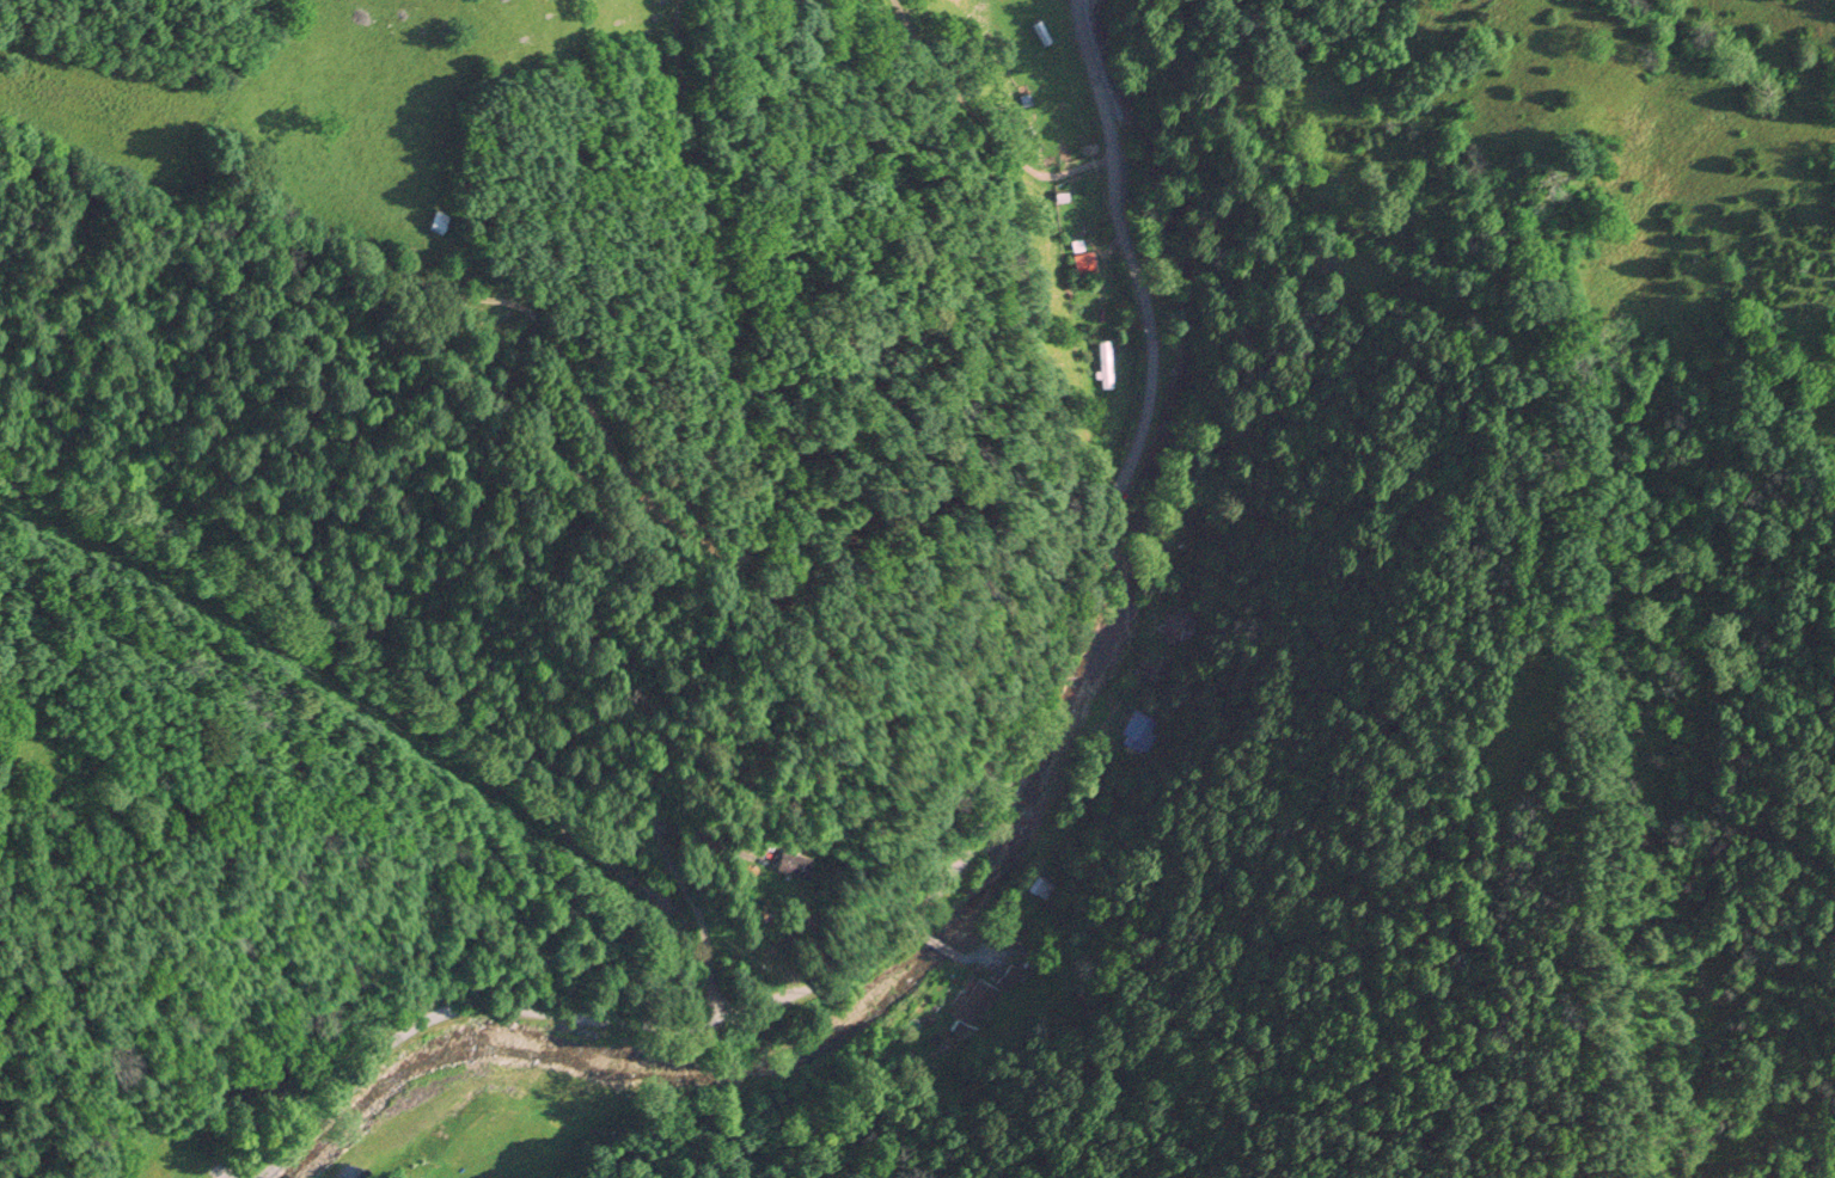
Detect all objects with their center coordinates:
building: (1039, 32)
road: (1095, 79)
building: (1024, 96)
road: (981, 125)
building: (1023, 131)
building: (1062, 196)
building: (435, 220)
building: (1077, 245)
building: (1105, 364)
road: (742, 550)
building: (1183, 583)
building: (1182, 633)
road: (1059, 809)
building: (789, 866)
building: (1039, 886)
road: (931, 891)
road: (911, 926)
road: (938, 943)

